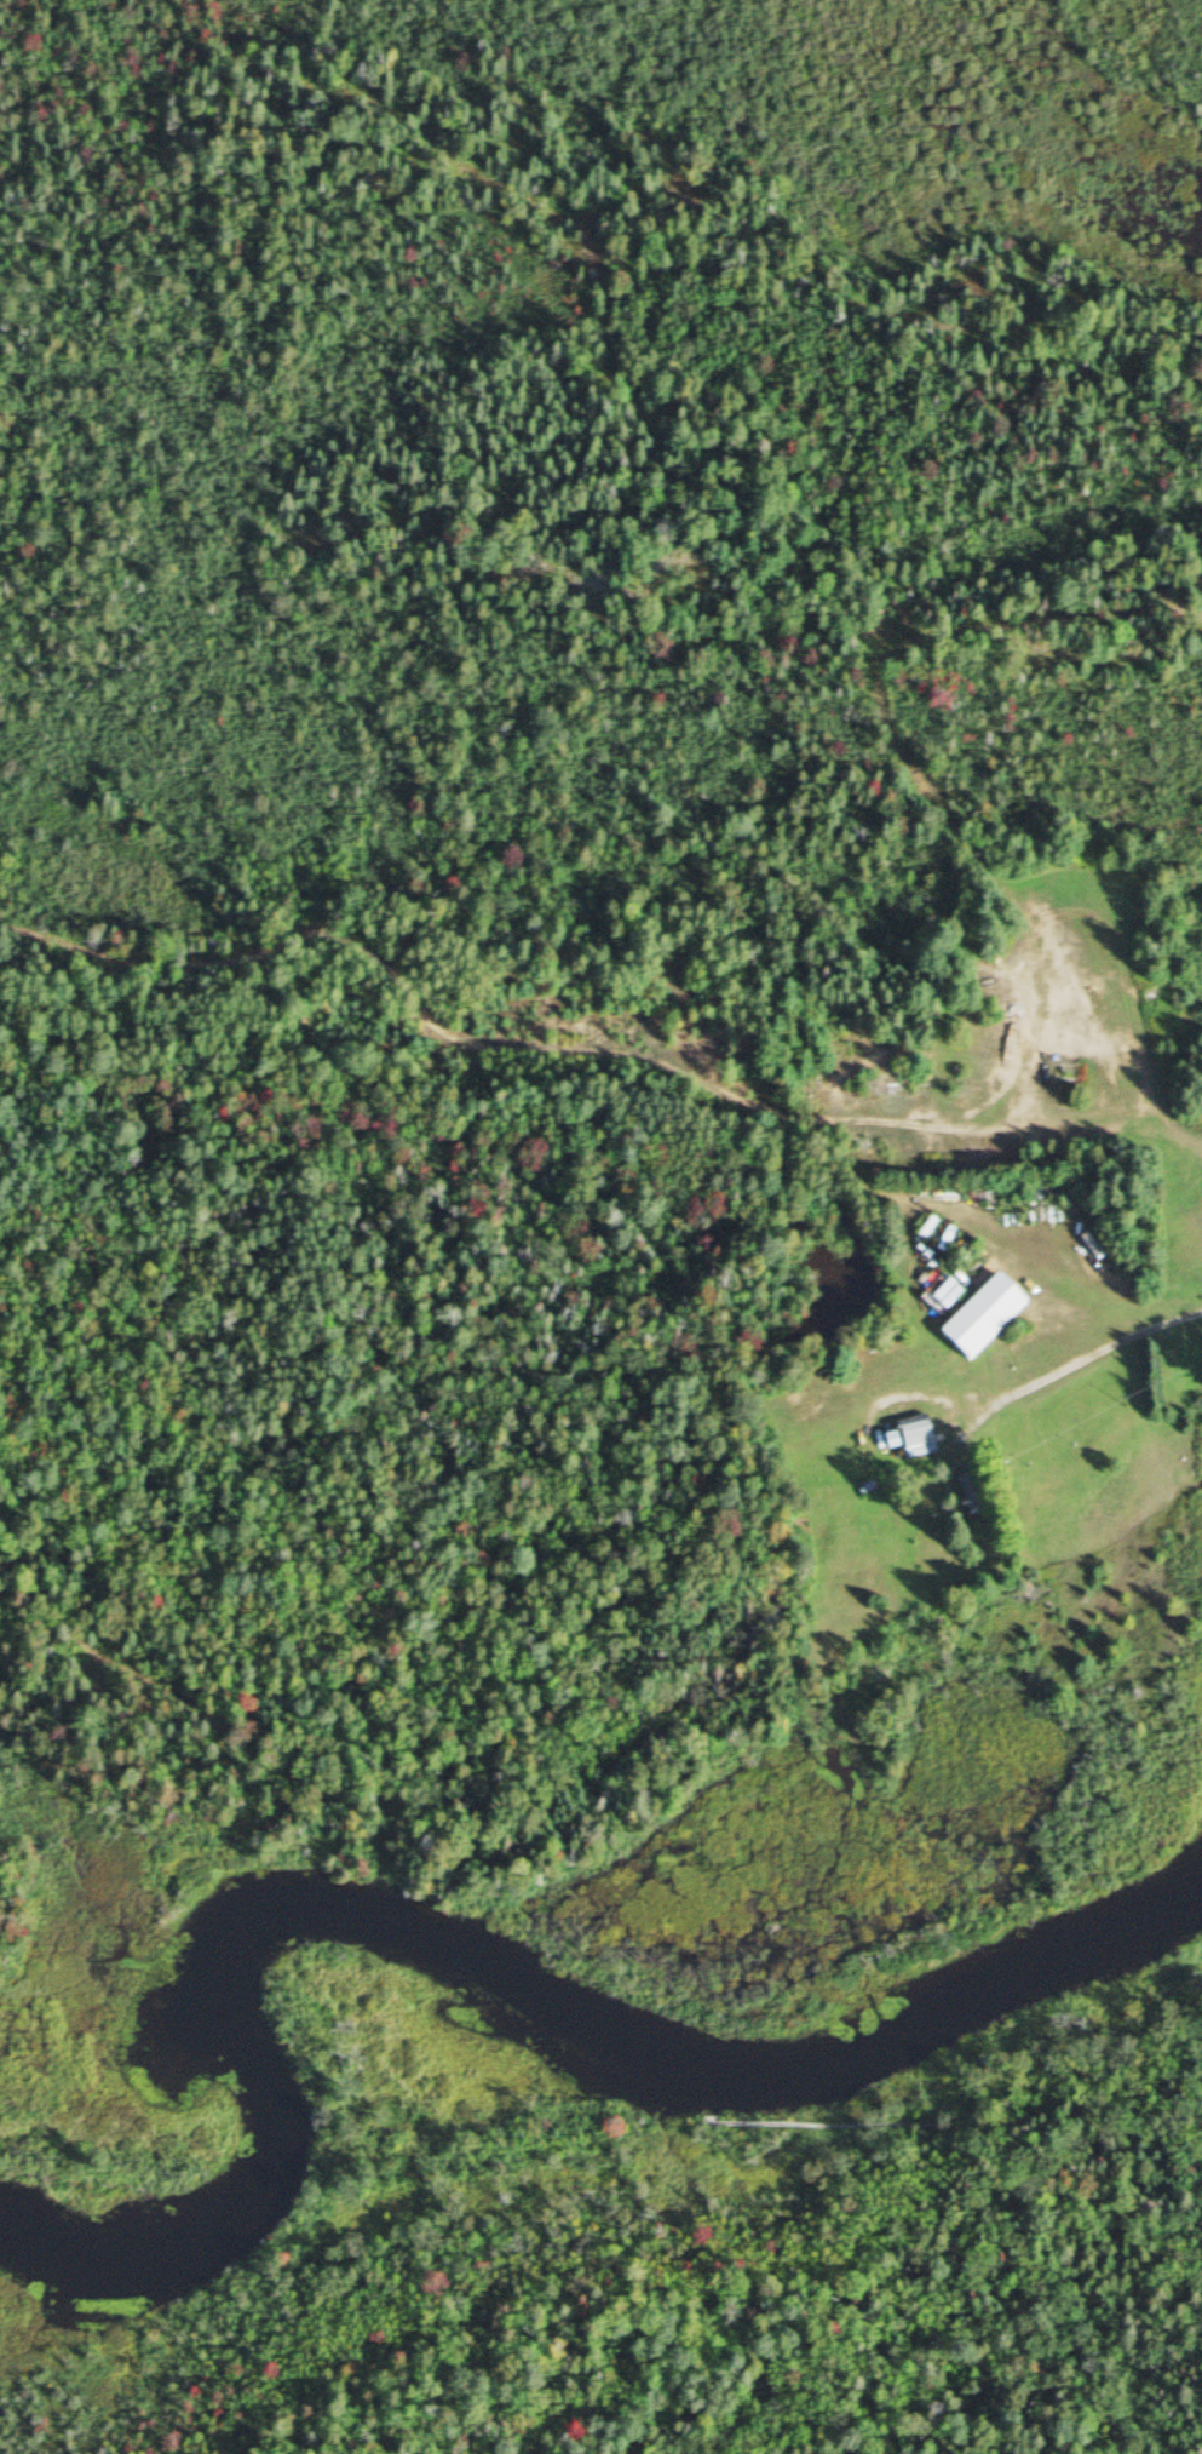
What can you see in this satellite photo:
building: (979, 1318)
road: (1087, 1353)
building: (913, 1437)
building: (967, 1493)
river: (996, 1796)
river: (442, 1965)

